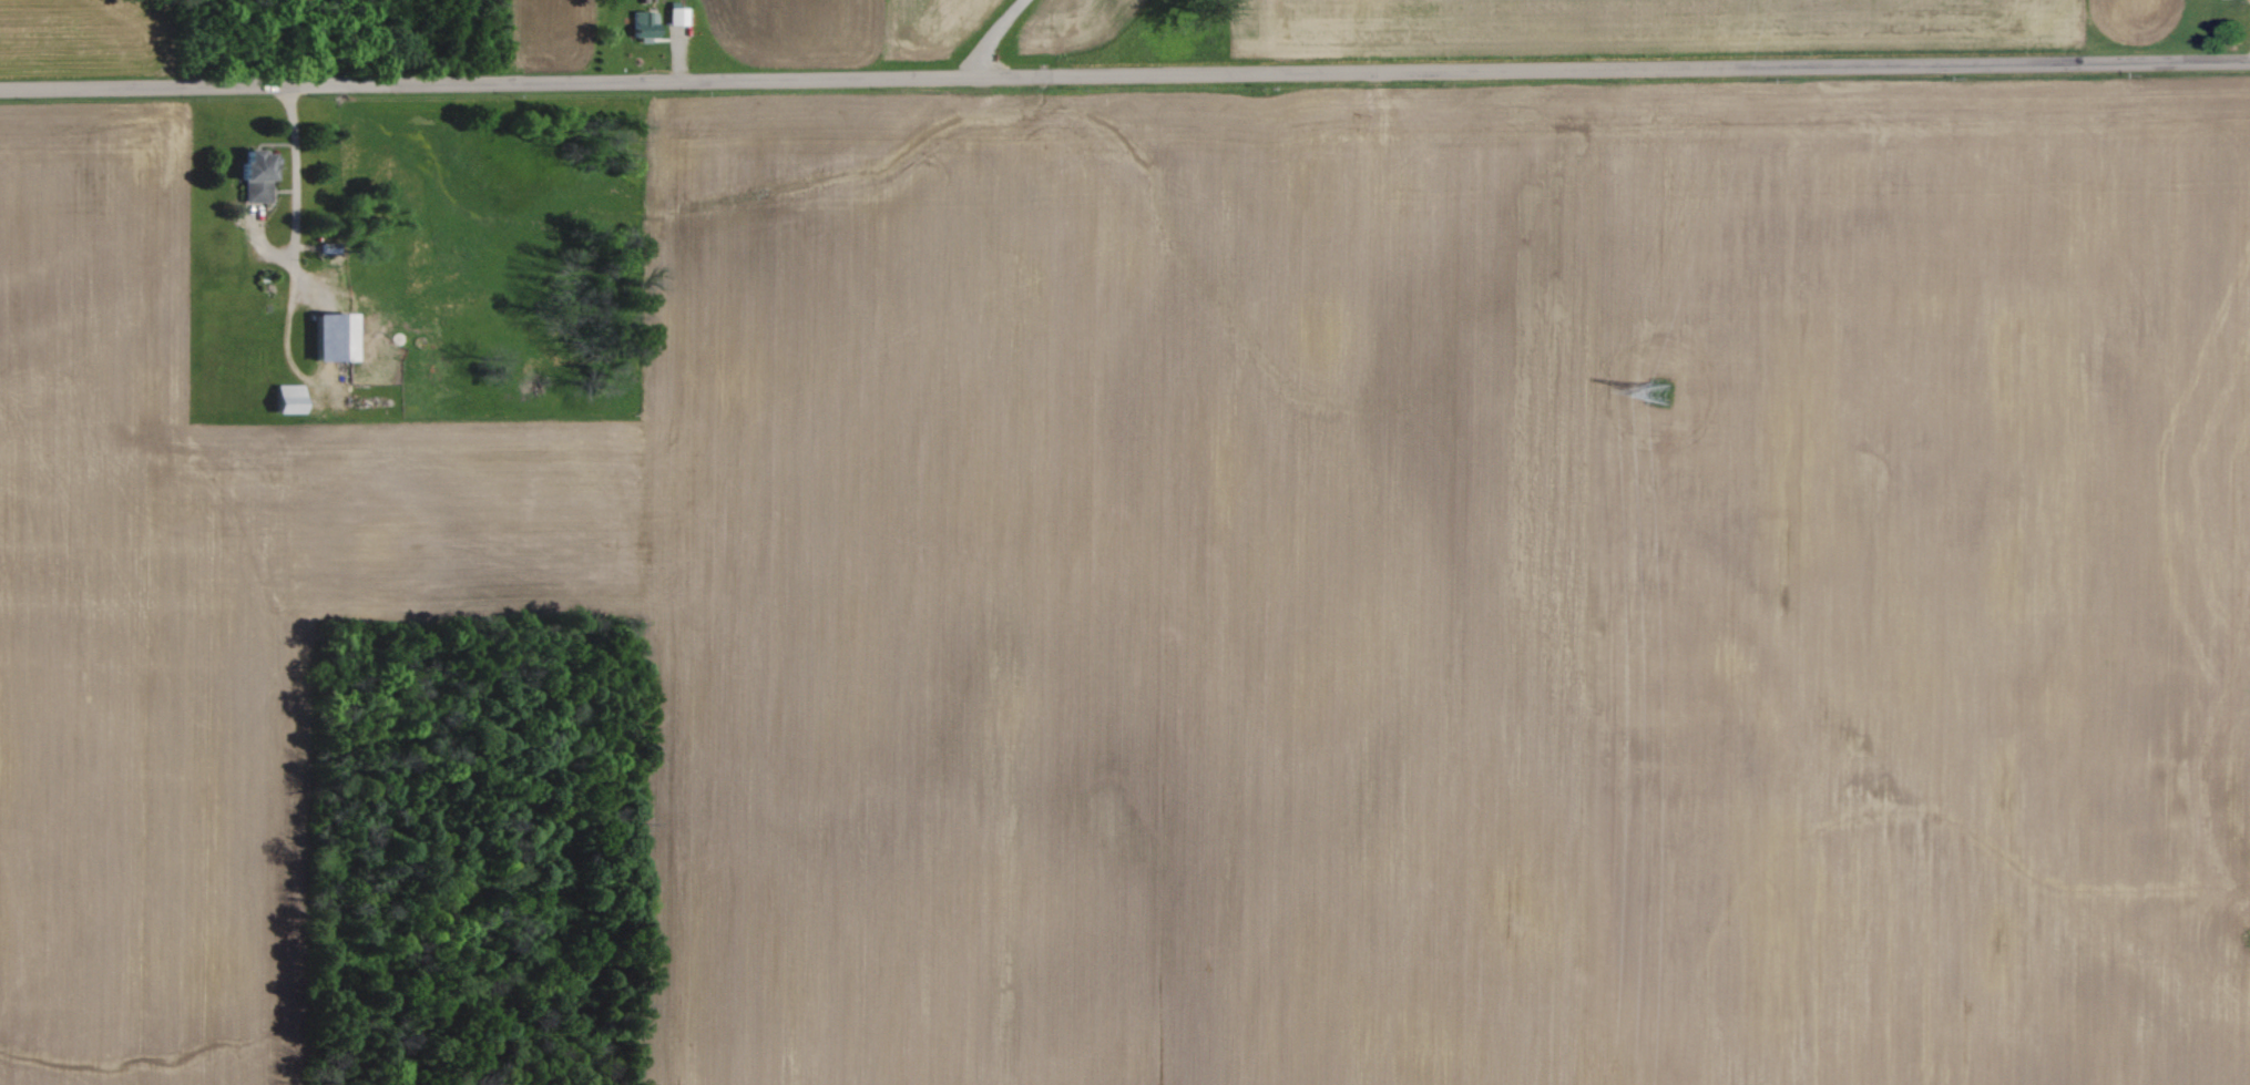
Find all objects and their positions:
building: (679, 17)
road: (996, 34)
road: (1124, 69)
building: (259, 160)
power tower: (1659, 391)
building: (294, 399)

